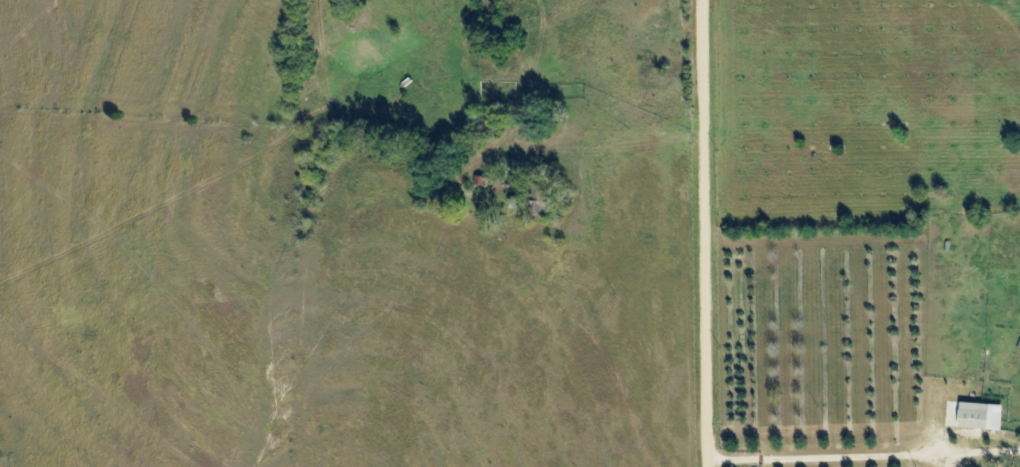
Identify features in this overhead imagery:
road: (708, 233)
building: (952, 414)
building: (980, 416)
road: (866, 458)

